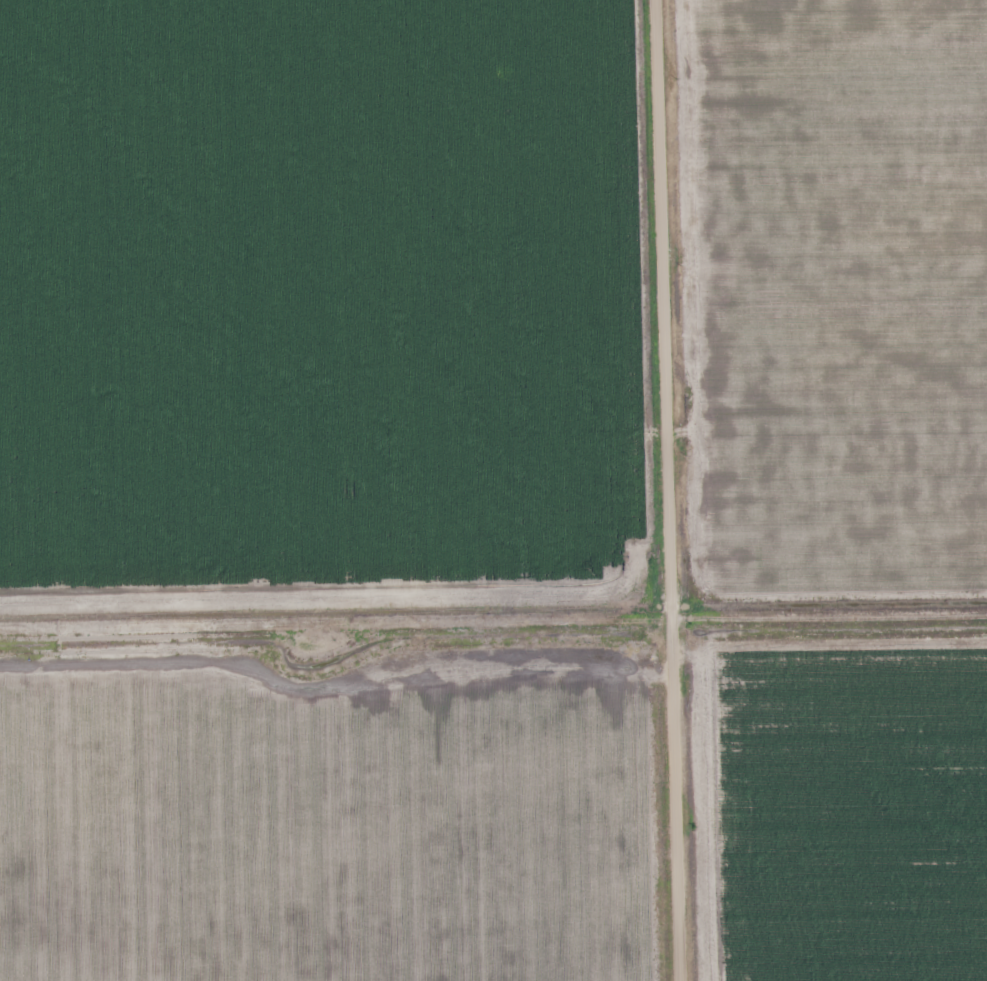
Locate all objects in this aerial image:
road: (667, 490)

